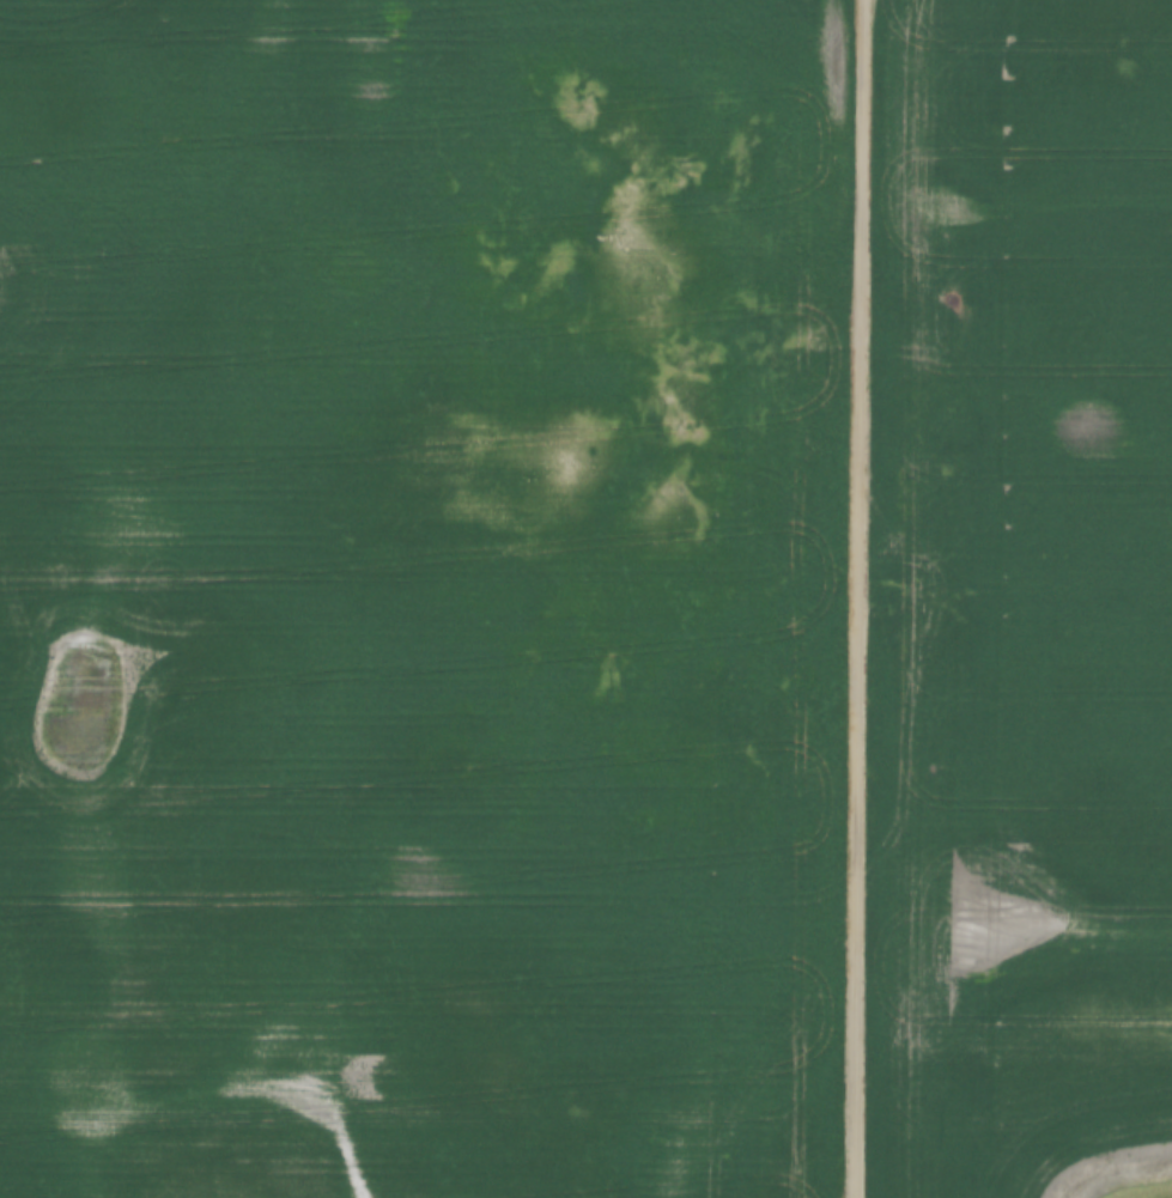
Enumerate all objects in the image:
road: (855, 598)

